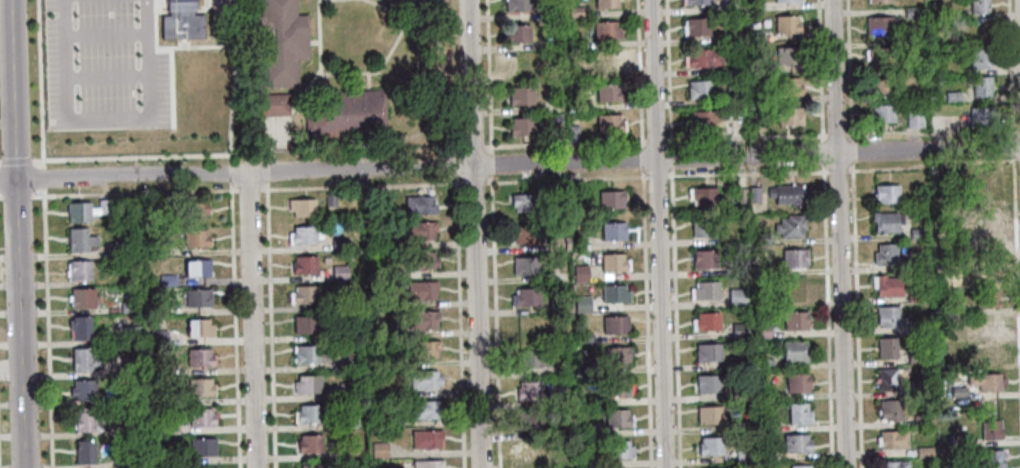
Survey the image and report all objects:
building: (789, 0)
building: (879, 1)
building: (390, 2)
building: (697, 2)
building: (605, 4)
building: (754, 4)
building: (516, 5)
building: (731, 5)
building: (981, 6)
building: (912, 10)
road: (394, 11)
road: (423, 11)
parking lot: (435, 11)
building: (574, 12)
building: (550, 13)
building: (180, 21)
building: (788, 23)
building: (879, 24)
building: (697, 26)
building: (606, 30)
building: (515, 33)
building: (980, 33)
road: (104, 34)
building: (756, 36)
building: (279, 42)
building: (574, 43)
building: (549, 44)
road: (171, 47)
building: (789, 55)
building: (704, 57)
building: (878, 57)
building: (981, 58)
road: (318, 59)
building: (608, 61)
building: (520, 63)
building: (572, 63)
parking lot: (102, 65)
road: (850, 69)
road: (377, 70)
building: (760, 70)
road: (820, 70)
road: (669, 72)
road: (640, 73)
road: (489, 74)
road: (106, 75)
building: (553, 75)
road: (1011, 75)
road: (234, 81)
road: (41, 82)
building: (791, 85)
building: (983, 85)
road: (170, 87)
building: (882, 87)
building: (702, 89)
building: (607, 93)
building: (759, 95)
building: (953, 95)
building: (520, 96)
building: (730, 98)
building: (271, 104)
building: (554, 105)
building: (581, 105)
building: (884, 112)
building: (346, 113)
building: (791, 116)
building: (983, 116)
road: (106, 117)
building: (914, 117)
building: (708, 119)
building: (757, 121)
building: (938, 121)
building: (608, 123)
building: (521, 126)
road: (1019, 129)
building: (555, 130)
road: (931, 130)
road: (836, 132)
building: (572, 133)
road: (746, 136)
road: (657, 139)
road: (566, 141)
road: (473, 145)
road: (455, 148)
road: (852, 150)
road: (822, 151)
road: (247, 152)
road: (16, 158)
road: (671, 158)
road: (642, 159)
road: (1019, 160)
road: (491, 163)
road: (455, 164)
road: (932, 164)
road: (510, 165)
road: (838, 169)
road: (748, 171)
road: (231, 173)
road: (657, 173)
road: (43, 175)
road: (566, 177)
road: (472, 181)
building: (983, 181)
road: (361, 185)
road: (249, 188)
building: (577, 189)
road: (134, 191)
building: (754, 192)
building: (888, 192)
building: (743, 193)
building: (785, 193)
road: (16, 195)
road: (1, 196)
building: (705, 196)
building: (369, 198)
building: (329, 199)
building: (612, 199)
building: (527, 202)
building: (927, 202)
building: (418, 205)
building: (150, 206)
building: (301, 207)
building: (87, 211)
building: (192, 212)
building: (984, 215)
building: (885, 222)
building: (947, 223)
building: (705, 227)
building: (790, 227)
building: (416, 230)
building: (614, 230)
building: (920, 232)
road: (17, 233)
building: (526, 233)
road: (657, 233)
road: (837, 233)
road: (473, 234)
building: (304, 235)
building: (761, 236)
building: (195, 239)
building: (79, 240)
building: (384, 242)
building: (559, 242)
building: (581, 242)
building: (984, 243)
building: (339, 244)
building: (121, 249)
building: (745, 252)
building: (886, 253)
building: (795, 257)
building: (705, 258)
building: (426, 261)
building: (613, 261)
road: (1016, 263)
building: (304, 265)
building: (523, 265)
building: (911, 266)
building: (197, 268)
building: (559, 270)
building: (78, 271)
building: (338, 272)
building: (384, 272)
building: (581, 272)
building: (954, 279)
building: (167, 280)
building: (887, 285)
building: (797, 288)
building: (705, 289)
building: (421, 290)
building: (616, 292)
building: (917, 293)
building: (303, 295)
building: (738, 295)
building: (526, 297)
building: (81, 298)
building: (197, 298)
building: (988, 298)
building: (762, 300)
building: (376, 301)
building: (583, 303)
building: (945, 303)
building: (126, 307)
building: (157, 308)
road: (857, 314)
road: (827, 315)
building: (889, 316)
road: (646, 319)
road: (675, 319)
road: (270, 320)
building: (422, 320)
building: (706, 320)
building: (797, 320)
road: (252, 321)
road: (495, 322)
road: (459, 323)
building: (616, 324)
road: (235, 325)
building: (305, 325)
building: (916, 325)
building: (989, 325)
road: (47, 327)
building: (527, 327)
building: (79, 328)
building: (199, 328)
building: (739, 328)
building: (385, 329)
building: (762, 329)
building: (749, 334)
building: (130, 335)
building: (157, 336)
building: (583, 336)
building: (562, 338)
building: (888, 347)
building: (422, 350)
building: (796, 350)
building: (708, 352)
building: (917, 354)
building: (990, 354)
building: (309, 355)
building: (619, 356)
building: (198, 358)
building: (530, 358)
building: (352, 359)
building: (82, 360)
building: (764, 361)
building: (159, 366)
building: (584, 370)
building: (124, 371)
building: (888, 379)
building: (423, 380)
building: (991, 381)
building: (798, 382)
building: (709, 383)
building: (917, 383)
building: (307, 385)
building: (199, 387)
building: (618, 388)
building: (346, 389)
building: (82, 390)
building: (529, 390)
building: (739, 390)
building: (769, 393)
building: (960, 393)
building: (424, 410)
building: (892, 410)
building: (799, 412)
building: (307, 414)
building: (710, 414)
building: (200, 417)
building: (619, 417)
building: (392, 418)
building: (921, 418)
building: (348, 420)
building: (85, 421)
building: (530, 422)
building: (771, 424)
building: (169, 427)
building: (744, 427)
building: (992, 428)
building: (129, 429)
building: (584, 429)
building: (425, 439)
building: (893, 439)
building: (959, 441)
building: (798, 443)
building: (308, 444)
building: (710, 446)
building: (202, 447)
building: (378, 449)
building: (625, 449)
building: (924, 450)
building: (352, 452)
building: (84, 453)
building: (531, 453)
building: (765, 454)
building: (169, 456)
building: (743, 457)
building: (558, 459)
building: (986, 460)
building: (131, 461)
building: (427, 464)
building: (895, 464)
building: (801, 466)
building: (208, 467)
building: (312, 467)

